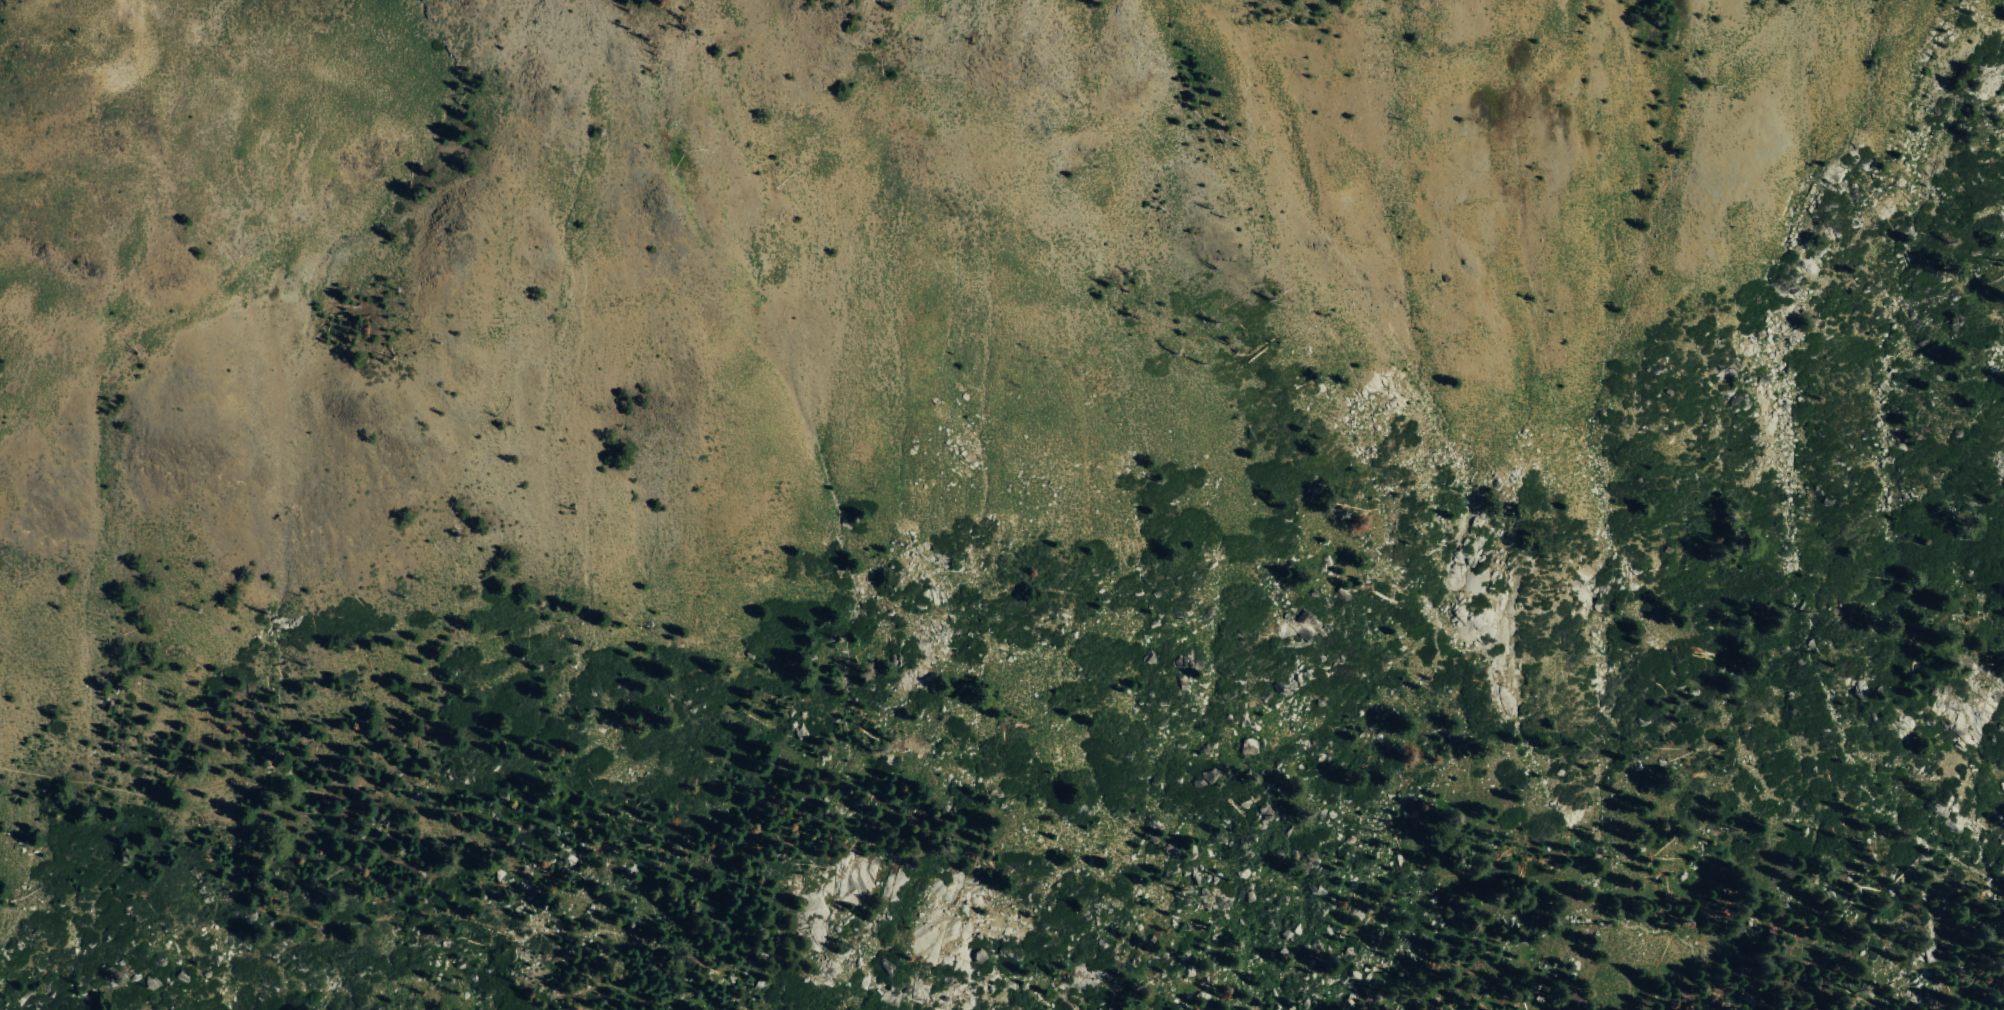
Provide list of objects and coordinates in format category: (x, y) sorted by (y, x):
road: (295, 886)

